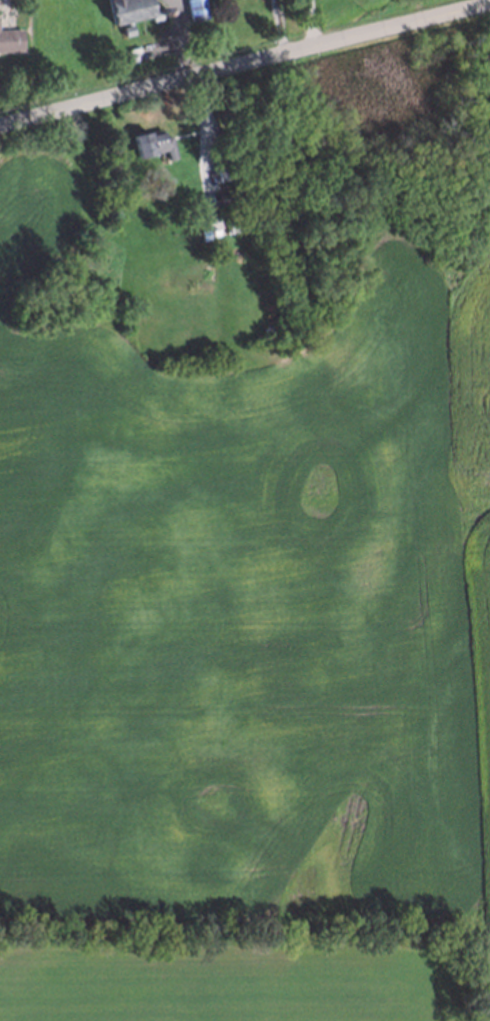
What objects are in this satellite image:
building: (125, 9)
building: (197, 10)
road: (311, 24)
building: (125, 31)
building: (9, 41)
road: (245, 64)
building: (150, 142)
building: (226, 167)
building: (228, 194)
building: (237, 222)

